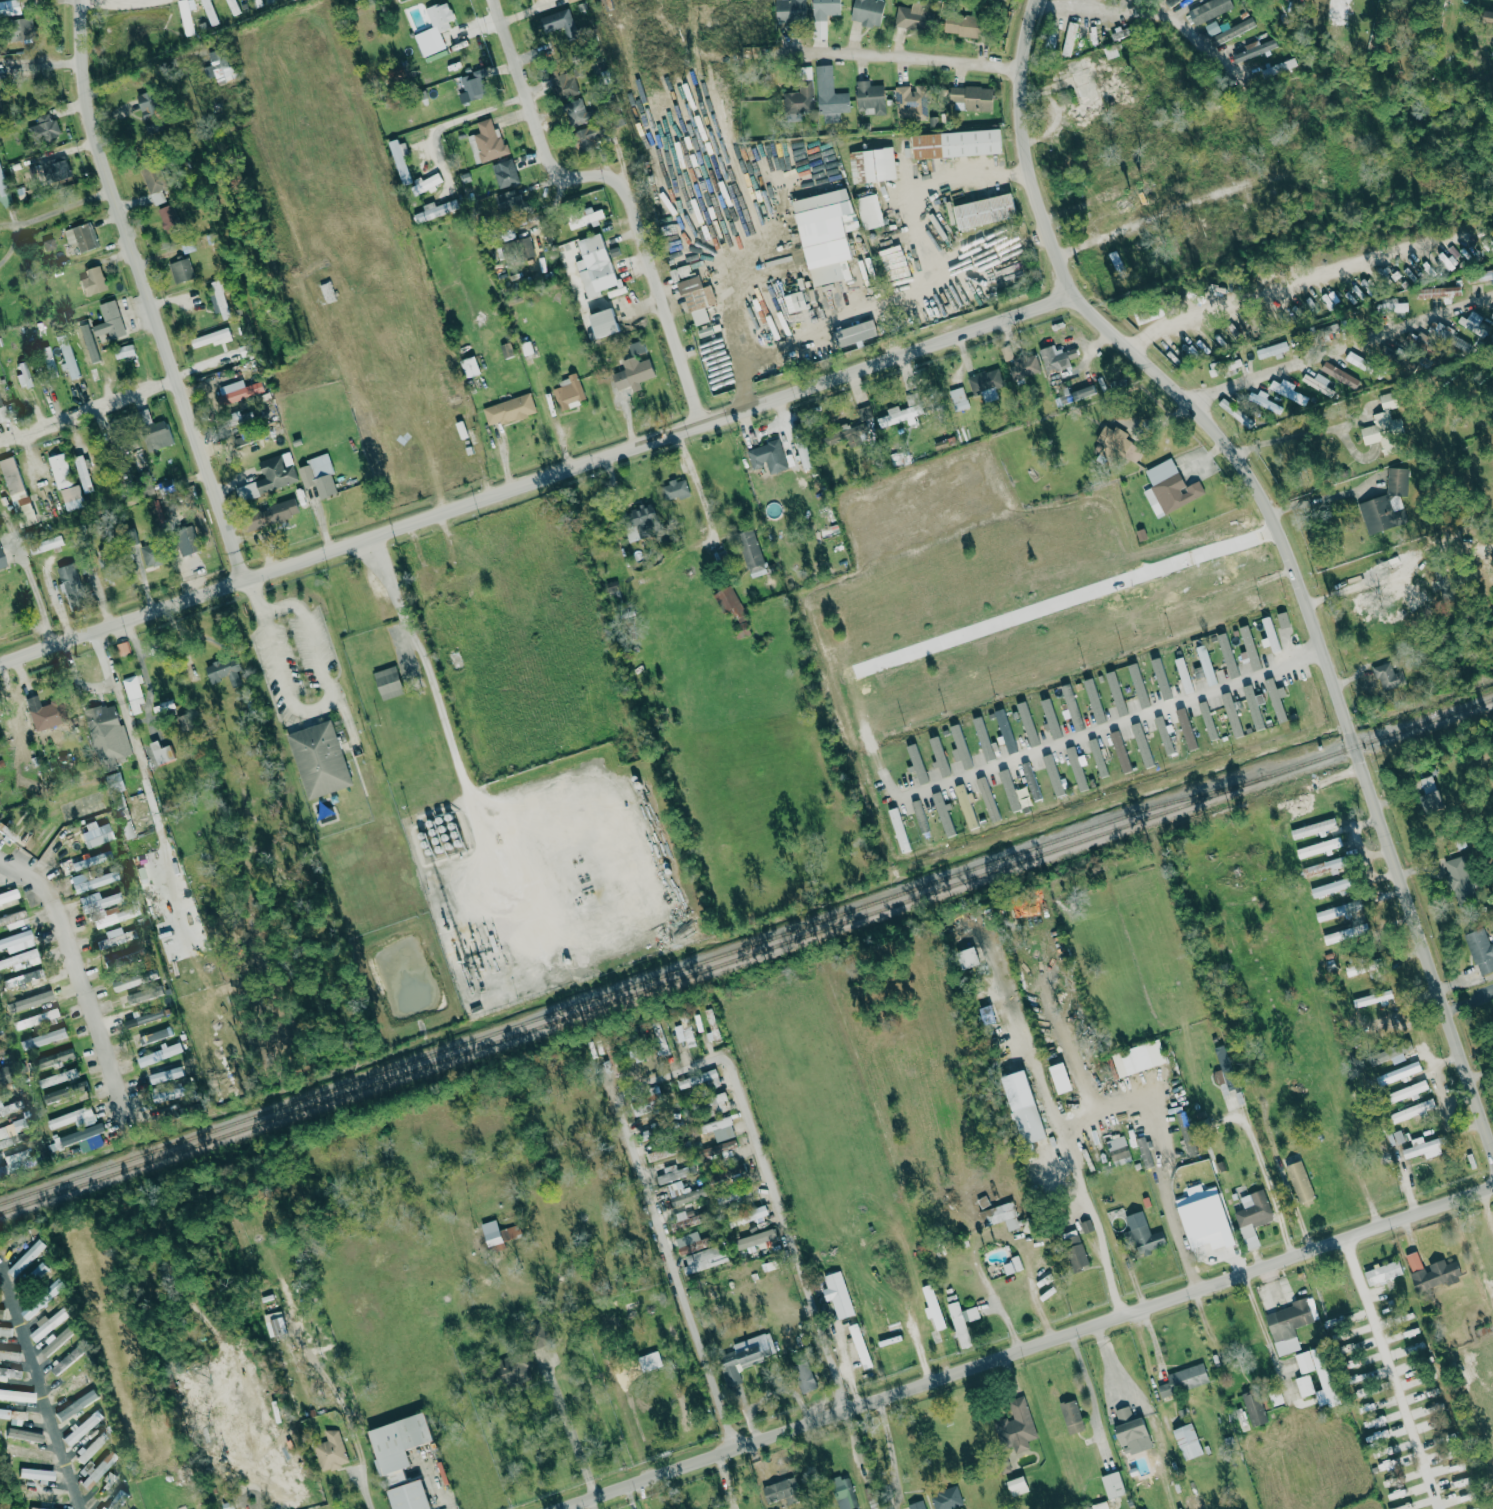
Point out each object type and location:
road: (117, 0)
building: (570, 0)
building: (257, 1)
building: (232, 6)
building: (9, 9)
building: (211, 10)
building: (790, 10)
building: (1208, 10)
road: (1133, 11)
building: (867, 12)
building: (823, 16)
building: (910, 16)
building: (185, 17)
building: (560, 23)
building: (962, 25)
building: (21, 28)
building: (434, 29)
building: (1227, 29)
building: (1119, 33)
building: (1093, 35)
building: (1051, 37)
building: (1069, 38)
road: (826, 49)
building: (1253, 49)
building: (1110, 51)
building: (218, 66)
building: (1278, 67)
building: (564, 84)
building: (473, 86)
building: (829, 96)
building: (870, 96)
building: (800, 97)
building: (971, 97)
building: (910, 103)
building: (0, 111)
building: (150, 111)
building: (575, 111)
road: (465, 115)
building: (42, 126)
building: (587, 138)
building: (486, 143)
building: (956, 143)
building: (400, 160)
building: (872, 165)
building: (56, 168)
building: (505, 173)
building: (153, 181)
building: (425, 183)
road: (626, 186)
building: (3, 190)
building: (508, 200)
building: (435, 210)
building: (869, 211)
building: (984, 211)
road: (43, 216)
building: (168, 217)
building: (584, 217)
building: (826, 234)
building: (81, 236)
building: (48, 244)
building: (1485, 244)
building: (525, 247)
building: (1446, 260)
building: (596, 265)
building: (1428, 268)
road: (1306, 269)
building: (181, 270)
building: (1480, 276)
road: (918, 280)
building: (92, 281)
building: (1368, 286)
building: (1438, 292)
road: (145, 293)
building: (218, 298)
building: (697, 299)
building: (794, 301)
building: (1327, 301)
building: (1391, 306)
building: (1156, 313)
building: (1491, 316)
building: (109, 320)
building: (603, 322)
building: (1474, 323)
road: (733, 326)
building: (1439, 329)
building: (855, 333)
building: (212, 337)
building: (83, 342)
building: (1463, 343)
building: (526, 347)
building: (505, 349)
road: (1341, 349)
building: (124, 350)
building: (1272, 350)
building: (1190, 351)
building: (47, 357)
building: (1056, 358)
building: (1354, 359)
building: (69, 360)
building: (1022, 363)
building: (469, 366)
building: (1220, 368)
building: (633, 373)
building: (1340, 374)
building: (23, 375)
building: (985, 383)
building: (1317, 383)
building: (448, 384)
building: (1286, 390)
building: (238, 391)
building: (569, 392)
building: (911, 399)
building: (958, 399)
building: (1266, 402)
road: (86, 409)
building: (510, 409)
building: (1, 413)
building: (1235, 413)
building: (899, 414)
building: (866, 419)
building: (1385, 426)
building: (154, 430)
road: (1289, 436)
building: (843, 437)
building: (944, 443)
building: (1119, 444)
building: (801, 447)
building: (767, 457)
building: (58, 471)
road: (694, 471)
building: (82, 473)
building: (318, 475)
building: (271, 476)
road: (536, 481)
building: (1169, 488)
building: (675, 489)
building: (17, 491)
building: (72, 497)
road: (1322, 498)
building: (1385, 502)
building: (277, 512)
building: (638, 518)
road: (1283, 536)
building: (186, 541)
building: (46, 544)
building: (751, 553)
building: (152, 554)
building: (1, 561)
building: (107, 570)
road: (1391, 576)
road: (1242, 582)
building: (70, 584)
road: (38, 594)
building: (732, 608)
building: (1283, 619)
building: (1270, 634)
building: (1249, 647)
building: (123, 648)
building: (1227, 655)
building: (1206, 665)
building: (225, 671)
building: (1198, 671)
building: (1183, 674)
road: (146, 678)
building: (1161, 678)
road: (78, 679)
building: (388, 682)
building: (1138, 685)
road: (432, 686)
building: (1116, 693)
building: (133, 694)
building: (1276, 698)
building: (1094, 700)
road: (121, 703)
building: (1070, 707)
building: (1253, 707)
building: (167, 708)
road: (315, 710)
building: (40, 712)
building: (1231, 714)
building: (1050, 718)
building: (1208, 720)
road: (1112, 721)
building: (182, 723)
building: (1027, 723)
building: (1186, 729)
building: (1005, 731)
building: (107, 734)
building: (1164, 734)
building: (982, 739)
building: (1142, 745)
building: (959, 746)
building: (161, 752)
building: (1120, 752)
building: (939, 755)
building: (1097, 757)
building: (319, 759)
building: (916, 761)
building: (1076, 768)
building: (1053, 775)
building: (1030, 781)
building: (116, 782)
building: (1009, 790)
building: (1431, 794)
building: (987, 799)
building: (966, 805)
building: (943, 814)
building: (919, 816)
building: (1313, 828)
building: (127, 829)
building: (899, 829)
building: (7, 832)
building: (95, 834)
building: (1319, 847)
building: (91, 860)
building: (1324, 866)
building: (1460, 879)
building: (95, 881)
building: (1332, 886)
building: (8, 895)
building: (97, 901)
building: (1024, 907)
building: (1336, 911)
building: (114, 914)
building: (13, 919)
building: (1345, 932)
building: (115, 937)
building: (17, 941)
building: (1480, 950)
railway: (746, 953)
building: (19, 958)
building: (967, 958)
road: (74, 965)
building: (1356, 968)
building: (22, 978)
road: (1410, 979)
building: (127, 982)
railway: (609, 993)
building: (144, 995)
building: (1371, 999)
building: (30, 1001)
building: (143, 1018)
building: (36, 1019)
building: (1386, 1021)
building: (711, 1026)
building: (684, 1032)
building: (157, 1036)
building: (43, 1038)
building: (659, 1038)
building: (159, 1054)
building: (1388, 1056)
building: (1138, 1058)
building: (52, 1059)
building: (1402, 1073)
road: (674, 1075)
building: (162, 1076)
building: (58, 1077)
building: (2, 1078)
building: (1060, 1078)
building: (700, 1079)
building: (1224, 1079)
building: (1409, 1091)
building: (65, 1092)
building: (170, 1094)
road: (1105, 1106)
building: (1023, 1107)
building: (11, 1108)
building: (1413, 1111)
building: (73, 1118)
building: (18, 1123)
building: (719, 1128)
building: (1189, 1134)
building: (5, 1138)
building: (84, 1138)
building: (1430, 1146)
building: (1117, 1148)
building: (717, 1149)
building: (659, 1153)
building: (1144, 1156)
building: (15, 1162)
building: (674, 1173)
road: (1263, 1173)
building: (732, 1174)
building: (1300, 1181)
building: (683, 1195)
building: (734, 1198)
road: (1291, 1201)
building: (753, 1214)
building: (1002, 1216)
building: (1252, 1216)
building: (1203, 1218)
building: (686, 1222)
building: (1086, 1226)
building: (498, 1233)
building: (1143, 1235)
building: (755, 1240)
building: (691, 1243)
building: (1074, 1250)
building: (25, 1258)
building: (703, 1259)
building: (768, 1266)
building: (1011, 1266)
building: (37, 1271)
building: (1383, 1272)
building: (1430, 1272)
building: (837, 1295)
building: (932, 1307)
building: (29, 1310)
building: (1, 1312)
building: (961, 1319)
building: (1334, 1321)
building: (48, 1323)
building: (274, 1323)
building: (1287, 1326)
building: (5, 1331)
building: (1341, 1335)
building: (56, 1340)
road: (1017, 1343)
building: (859, 1346)
building: (1348, 1348)
building: (754, 1349)
building: (9, 1355)
building: (649, 1361)
building: (63, 1362)
building: (1304, 1362)
building: (1351, 1363)
road: (1394, 1368)
building: (729, 1369)
building: (10, 1373)
building: (804, 1377)
road: (1085, 1377)
building: (1324, 1380)
building: (1184, 1381)
building: (72, 1383)
building: (1305, 1385)
road: (40, 1387)
building: (1360, 1393)
building: (16, 1395)
building: (76, 1405)
building: (1254, 1408)
building: (13, 1416)
building: (1071, 1417)
building: (1374, 1421)
road: (565, 1424)
building: (82, 1427)
building: (1016, 1427)
building: (1129, 1427)
building: (24, 1435)
building: (397, 1442)
building: (1188, 1442)
building: (90, 1448)
road: (890, 1448)
building: (330, 1451)
building: (30, 1455)
building: (1456, 1467)
building: (98, 1470)
building: (35, 1474)
building: (394, 1478)
road: (724, 1478)
building: (1390, 1481)
building: (1460, 1482)
building: (1113, 1485)
building: (1017, 1486)
building: (776, 1492)
building: (843, 1493)
building: (1398, 1493)
building: (42, 1496)
building: (408, 1496)
building: (1463, 1498)
building: (116, 1499)
building: (946, 1499)
road: (591, 1501)
building: (916, 1505)
building: (1100, 1506)
building: (1400, 1507)
building: (37, 1508)
building: (1477, 1508)

